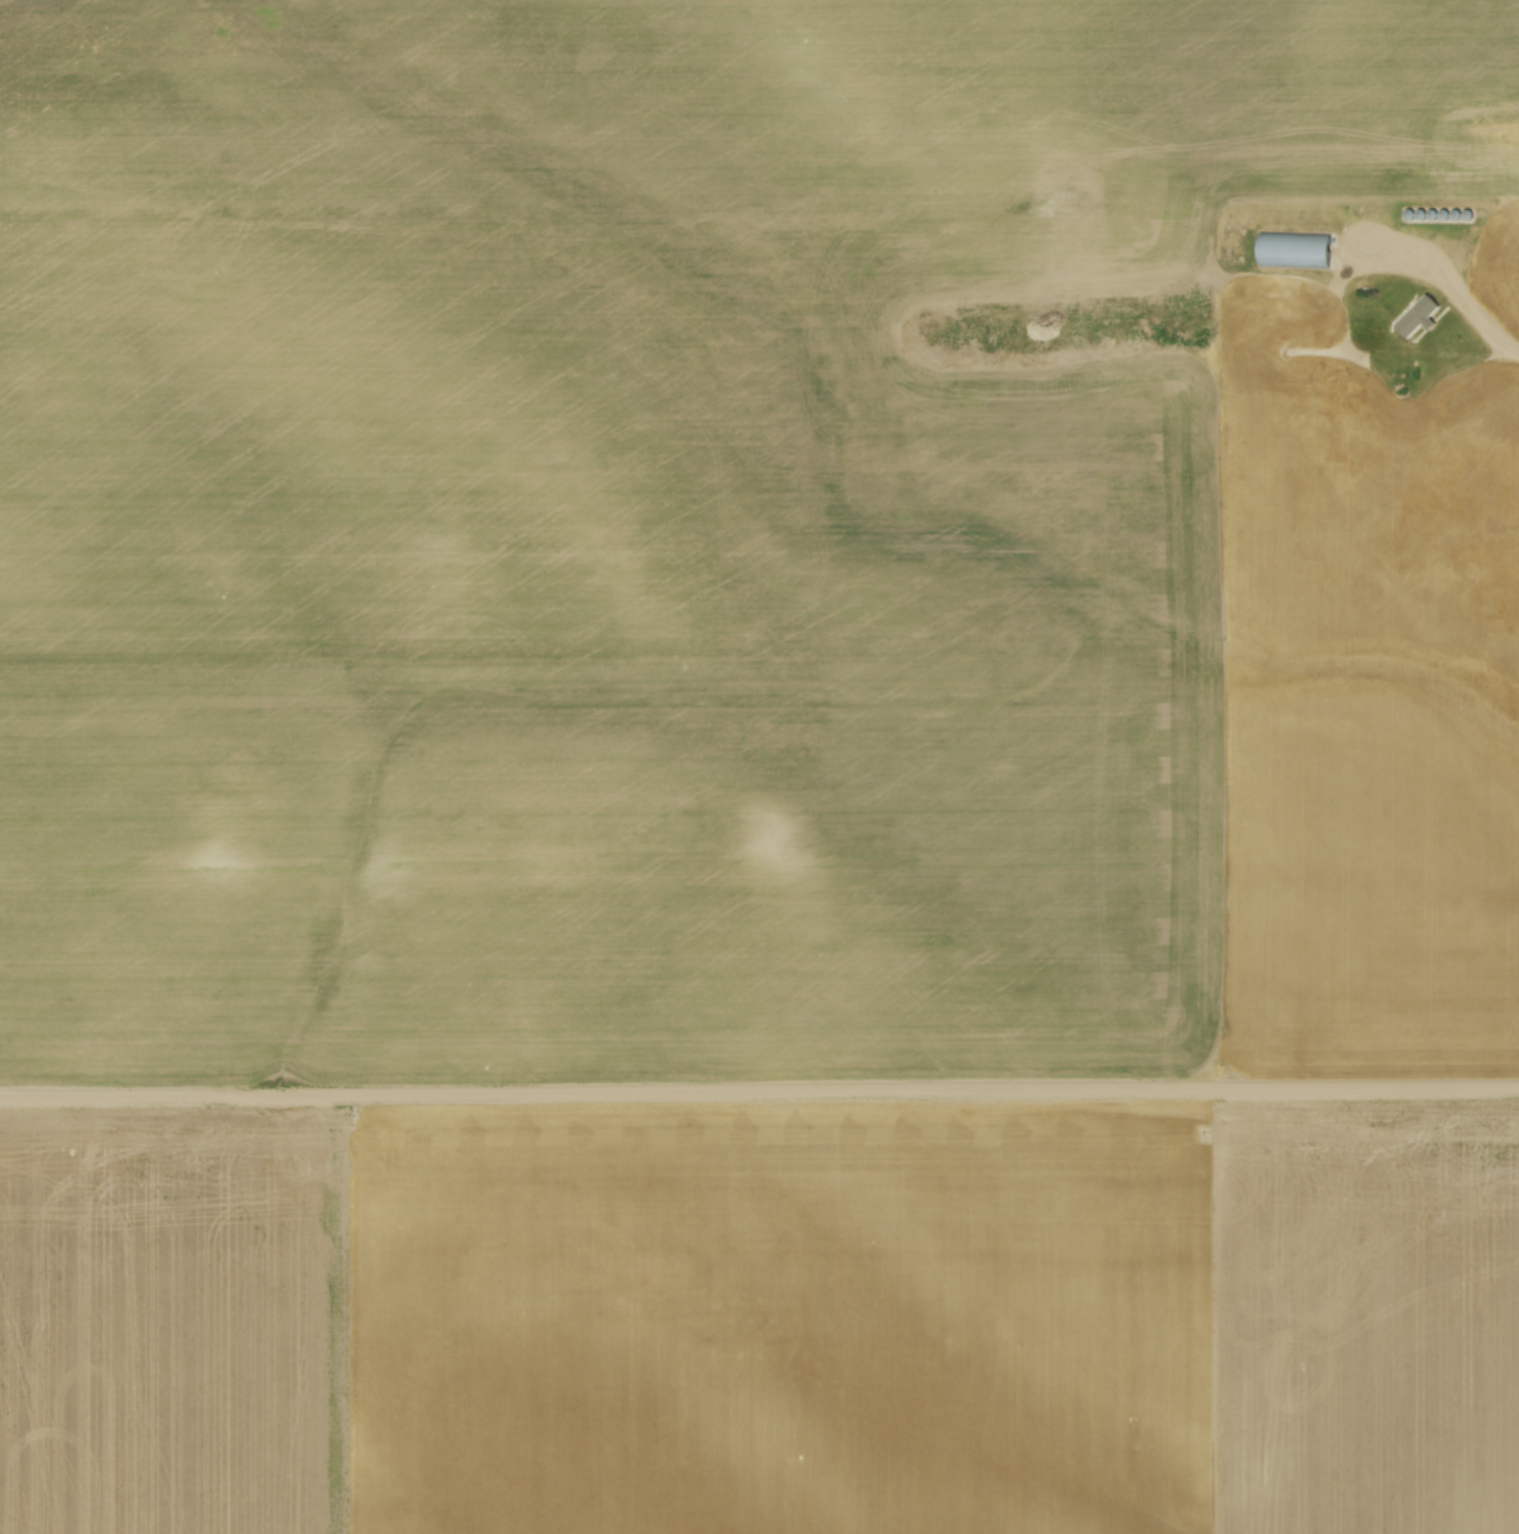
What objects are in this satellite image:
silo: (1422, 213)
silo: (1434, 213)
silo: (1446, 213)
silo: (1469, 213)
silo: (1409, 214)
silo: (1458, 214)
silo: (1481, 214)
building: (1296, 249)
building: (1420, 315)
road: (1390, 348)
crop: (740, 545)
road: (759, 1092)
crop: (762, 1320)

